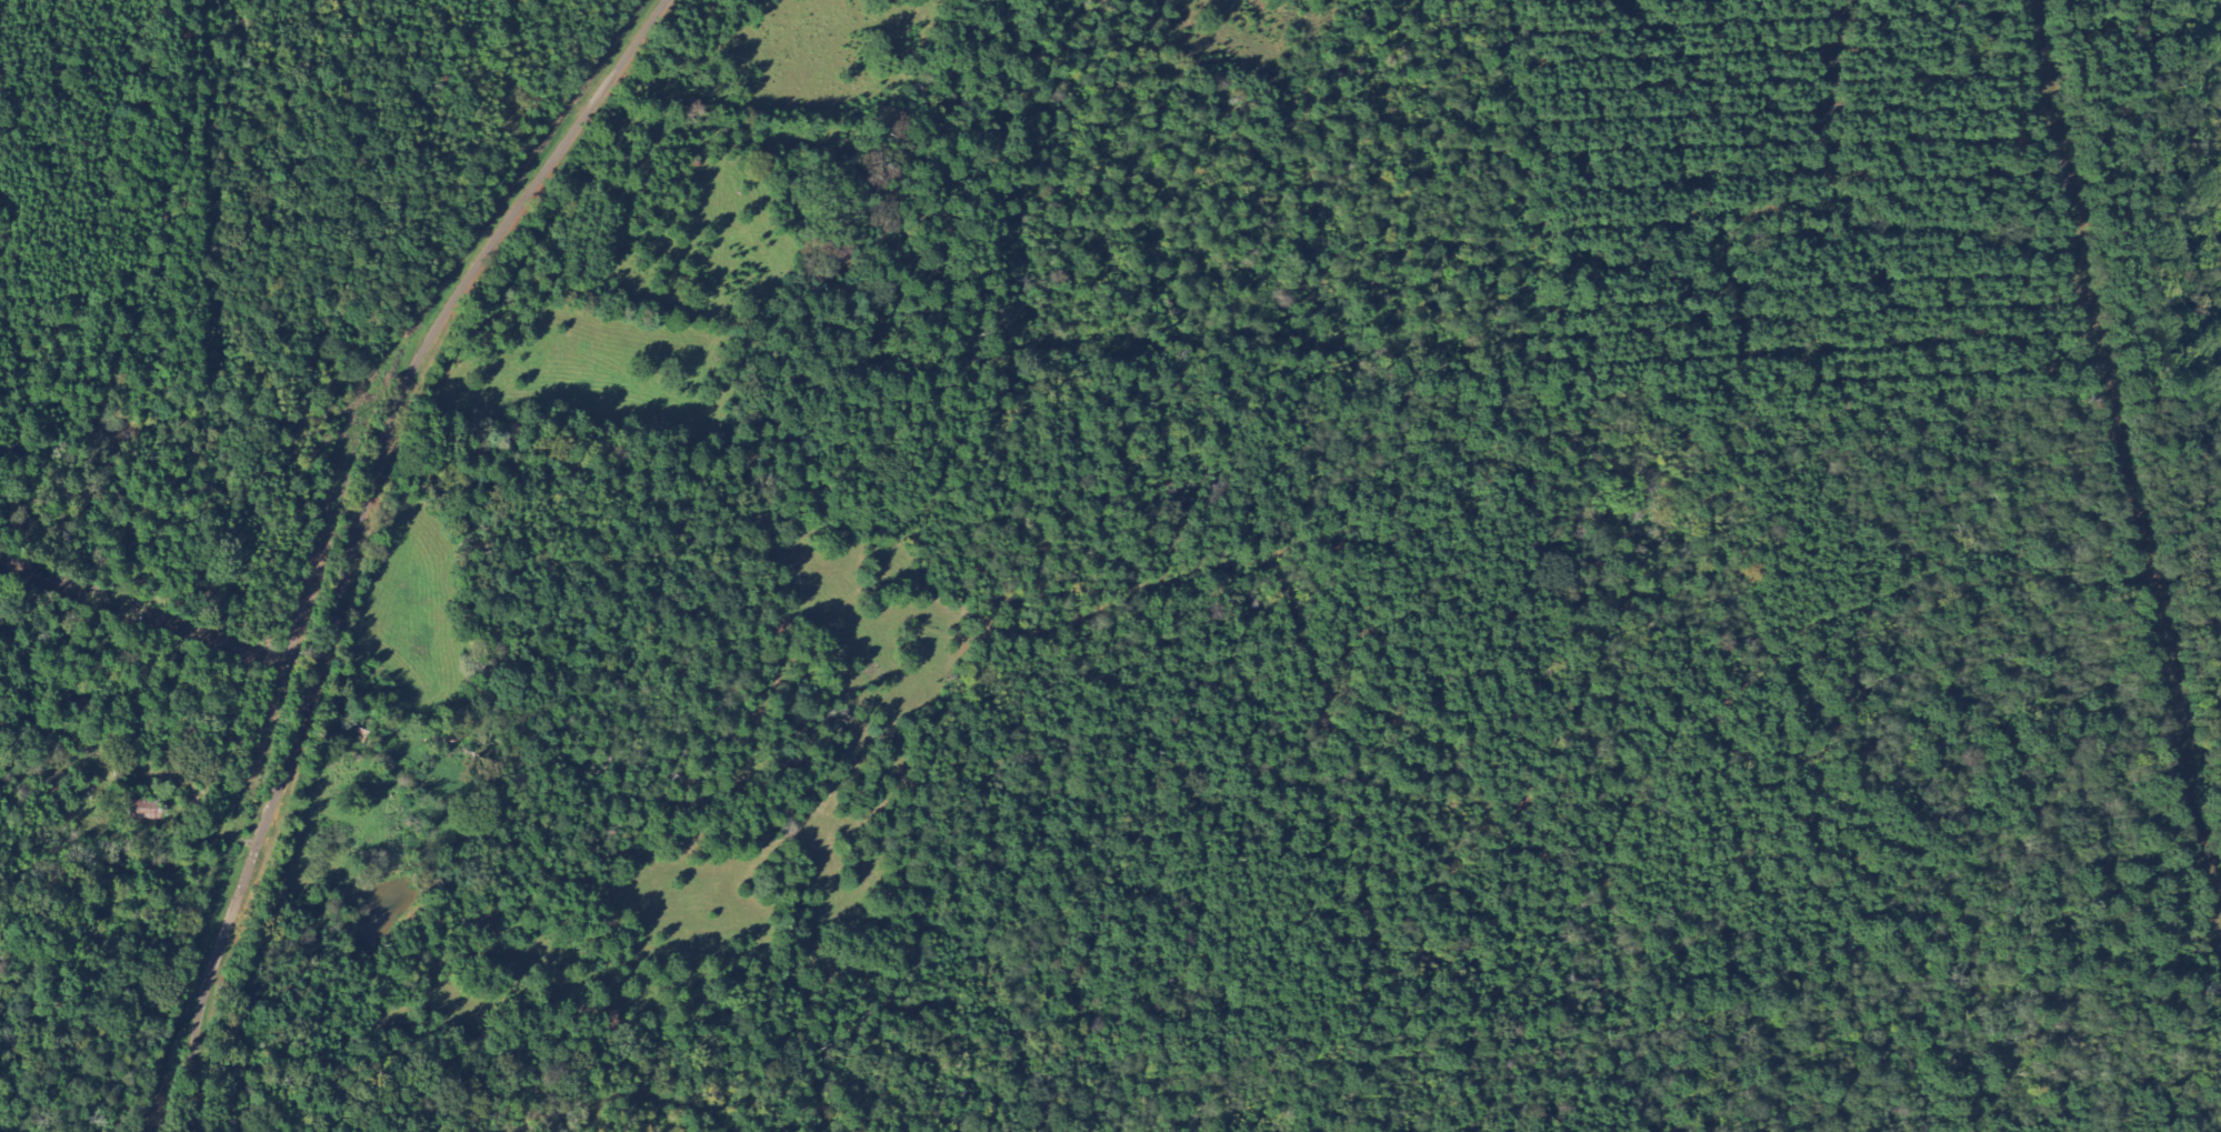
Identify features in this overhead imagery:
road: (349, 533)
building: (148, 809)

